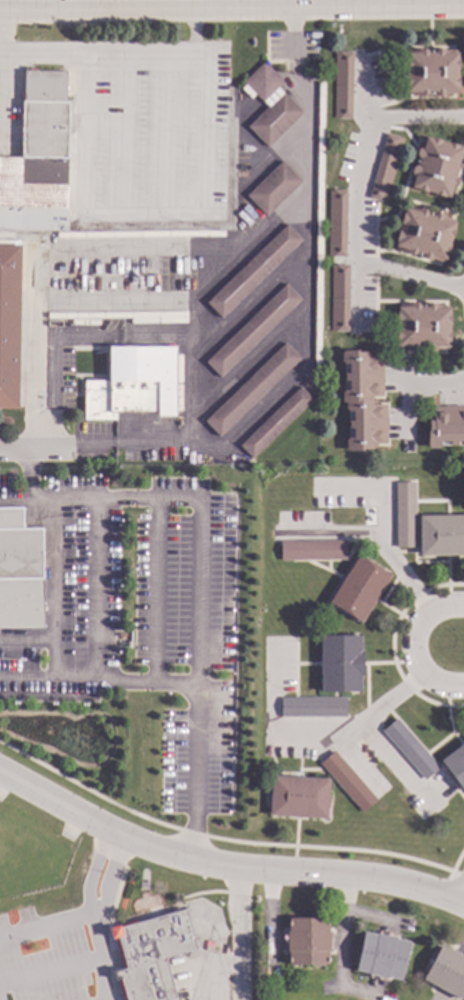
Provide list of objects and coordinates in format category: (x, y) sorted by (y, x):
road: (72, 5)
road: (232, 9)
road: (2, 39)
road: (122, 56)
building: (431, 71)
building: (257, 77)
building: (342, 84)
road: (421, 117)
building: (274, 119)
building: (435, 167)
building: (385, 168)
building: (37, 170)
building: (273, 188)
road: (354, 196)
building: (336, 223)
building: (424, 234)
building: (253, 271)
road: (409, 276)
building: (339, 298)
building: (9, 324)
building: (423, 326)
building: (252, 330)
road: (191, 347)
road: (30, 351)
building: (133, 384)
road: (430, 386)
building: (251, 390)
building: (363, 400)
road: (406, 409)
building: (275, 422)
building: (446, 426)
road: (50, 447)
road: (30, 475)
road: (99, 502)
building: (404, 515)
road: (377, 531)
road: (330, 533)
building: (441, 535)
building: (312, 550)
building: (19, 575)
road: (446, 583)
building: (358, 588)
road: (53, 593)
road: (99, 593)
road: (157, 593)
road: (393, 612)
road: (26, 640)
road: (391, 647)
road: (408, 647)
building: (340, 663)
road: (386, 665)
road: (195, 678)
road: (97, 684)
building: (312, 707)
road: (447, 718)
road: (310, 733)
building: (410, 749)
road: (394, 764)
building: (455, 765)
building: (347, 781)
building: (298, 797)
road: (216, 840)
road: (294, 846)
road: (457, 860)
road: (223, 864)
road: (457, 876)
road: (462, 893)
road: (95, 916)
road: (375, 917)
road: (47, 928)
road: (239, 934)
building: (307, 941)
road: (342, 949)
parking lot: (50, 951)
building: (152, 955)
building: (381, 955)
building: (447, 972)

